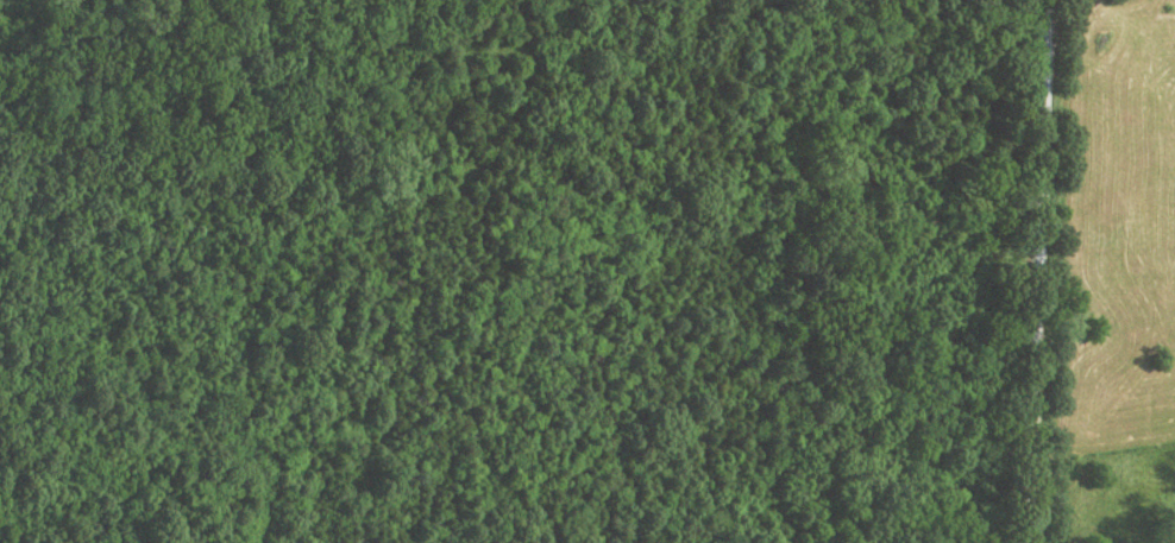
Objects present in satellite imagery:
road: (1026, 271)

